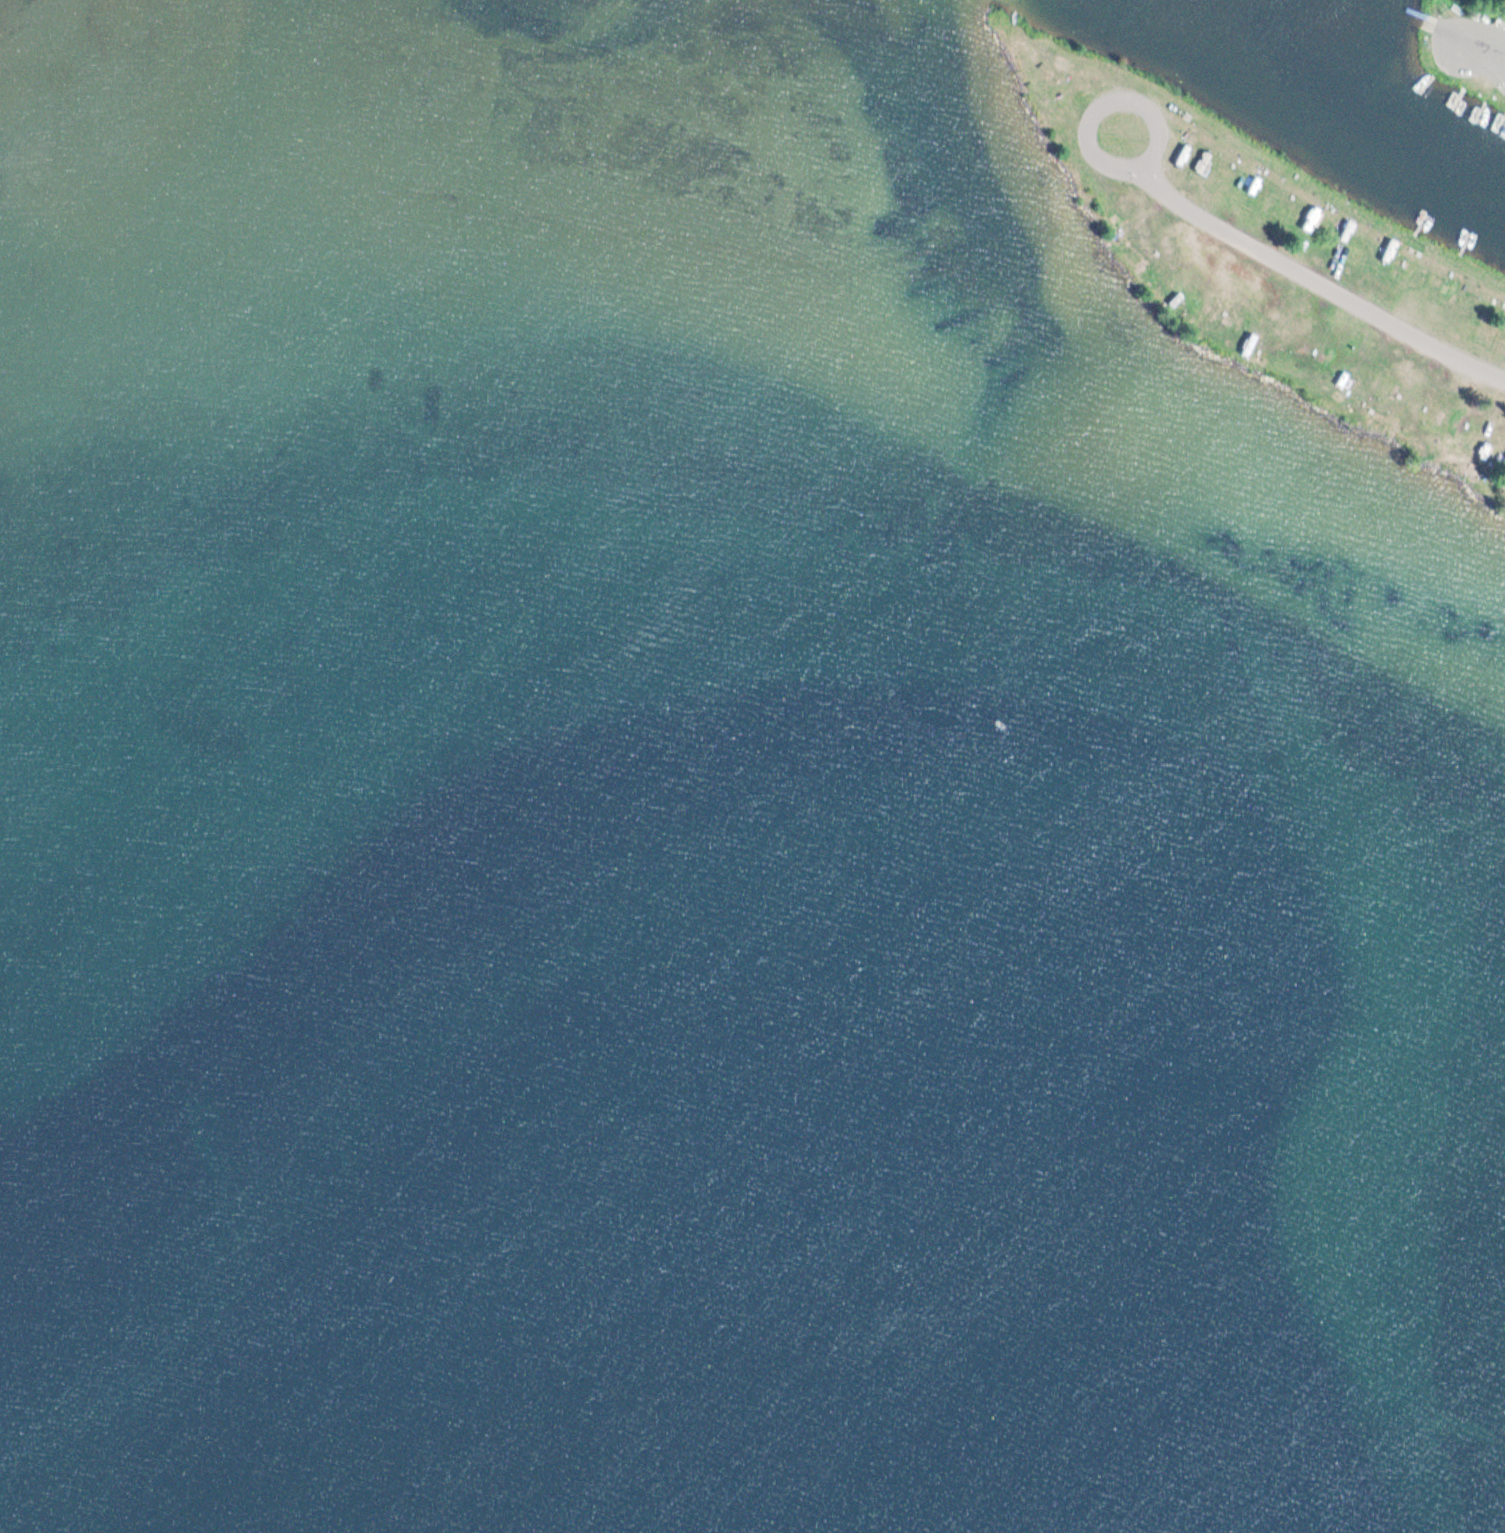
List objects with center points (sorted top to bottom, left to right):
road: (1490, 61)
road: (1311, 195)

